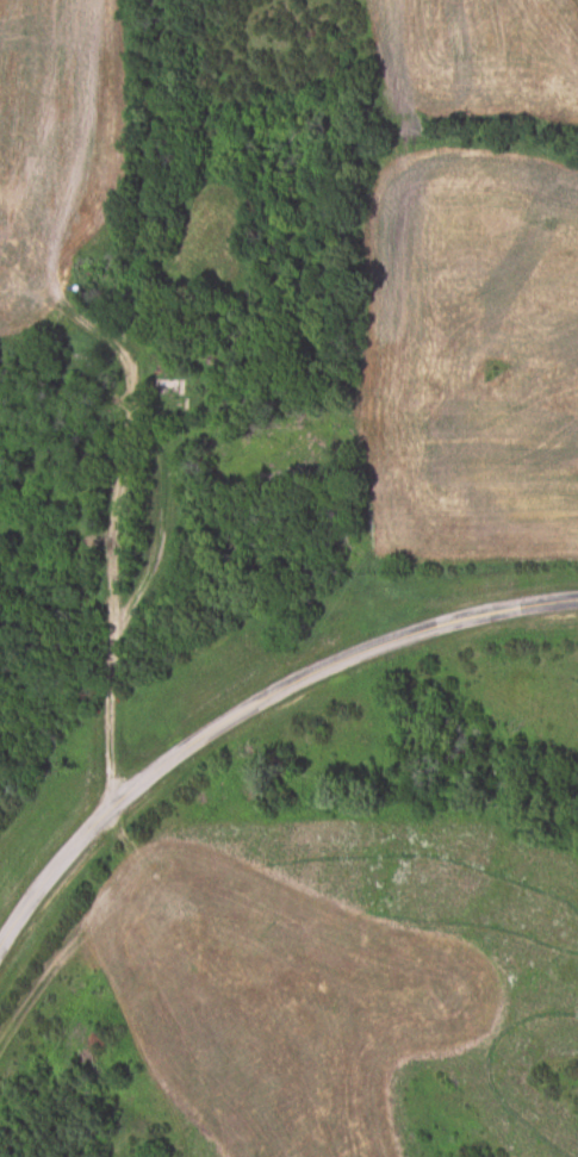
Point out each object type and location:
road: (179, 392)
road: (248, 704)

